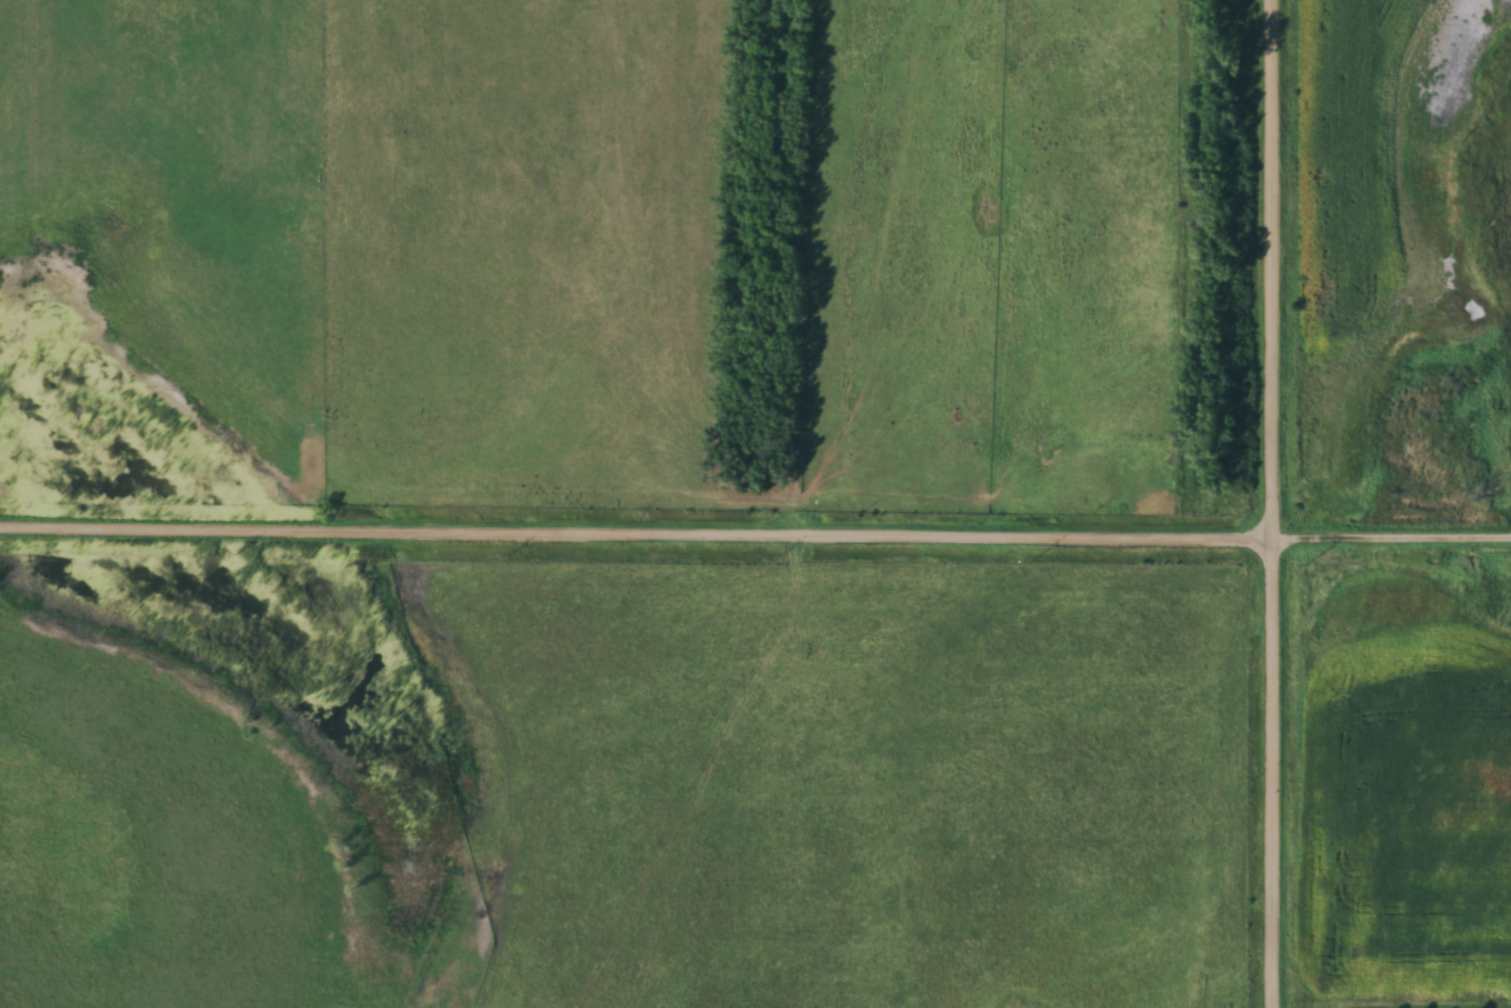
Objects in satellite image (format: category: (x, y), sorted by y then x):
road: (1280, 504)
road: (755, 535)

